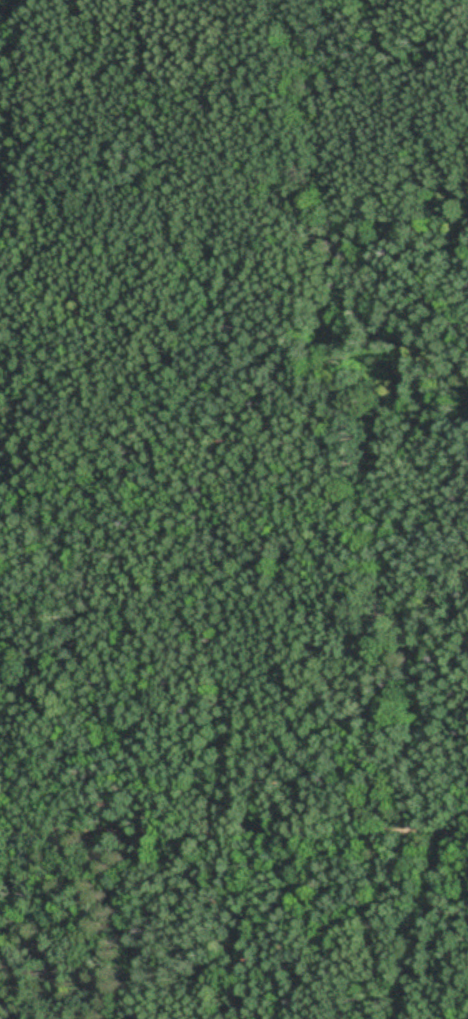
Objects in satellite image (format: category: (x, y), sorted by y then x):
road: (234, 832)

